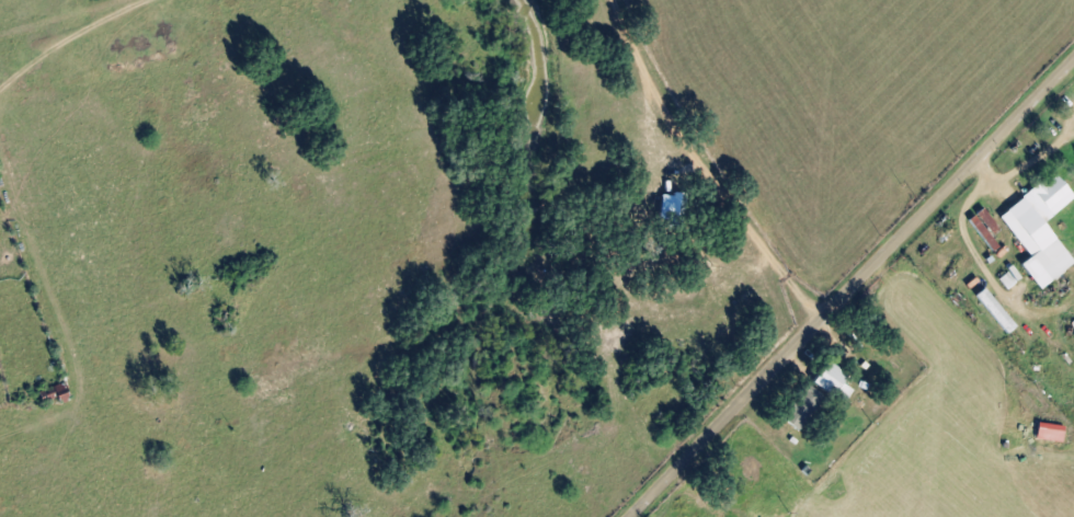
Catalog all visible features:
building: (1037, 229)
building: (1007, 277)
road: (853, 288)
building: (993, 310)
building: (830, 381)
building: (800, 407)
building: (1047, 432)

